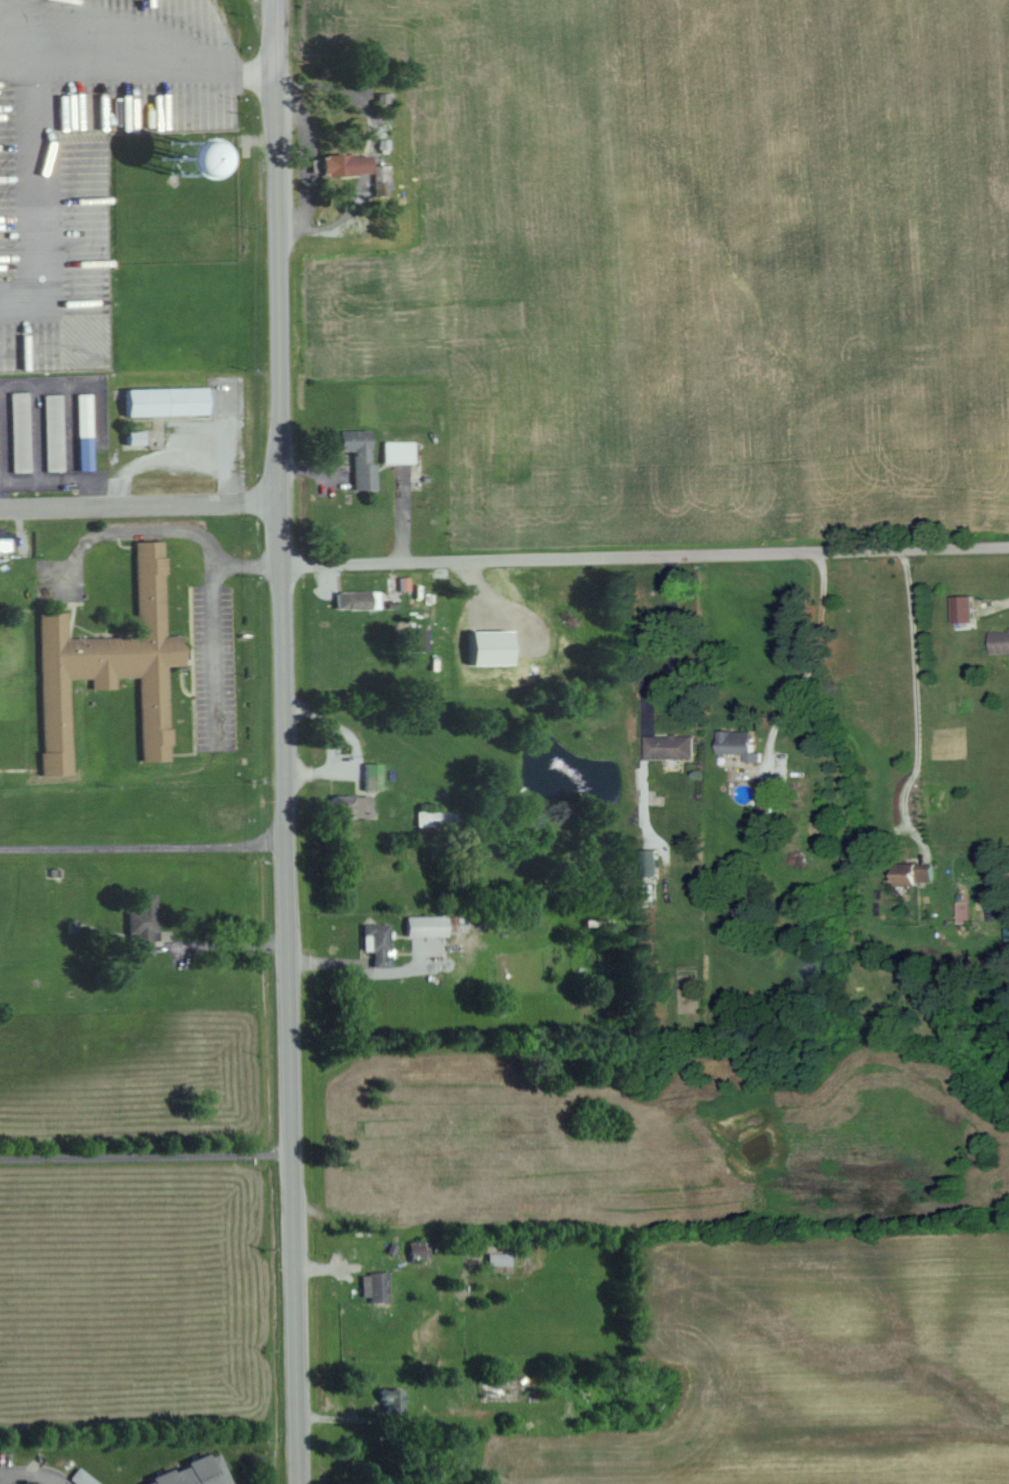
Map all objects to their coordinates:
water tower: (180, 152)
building: (220, 156)
building: (352, 164)
building: (385, 179)
building: (172, 401)
building: (24, 431)
building: (89, 431)
building: (58, 432)
building: (140, 437)
building: (404, 451)
building: (365, 457)
road: (142, 507)
building: (8, 540)
road: (646, 552)
building: (362, 599)
building: (971, 608)
building: (1003, 640)
road: (808, 660)
building: (117, 666)
road: (916, 700)
road: (286, 742)
building: (743, 743)
building: (675, 745)
building: (378, 776)
building: (768, 800)
building: (357, 805)
road: (143, 846)
building: (923, 874)
building: (970, 912)
building: (149, 922)
building: (433, 925)
building: (384, 942)
road: (147, 1156)
building: (423, 1249)
building: (505, 1258)
building: (381, 1286)
building: (398, 1399)
building: (202, 1472)
road: (31, 1477)
building: (88, 1477)

